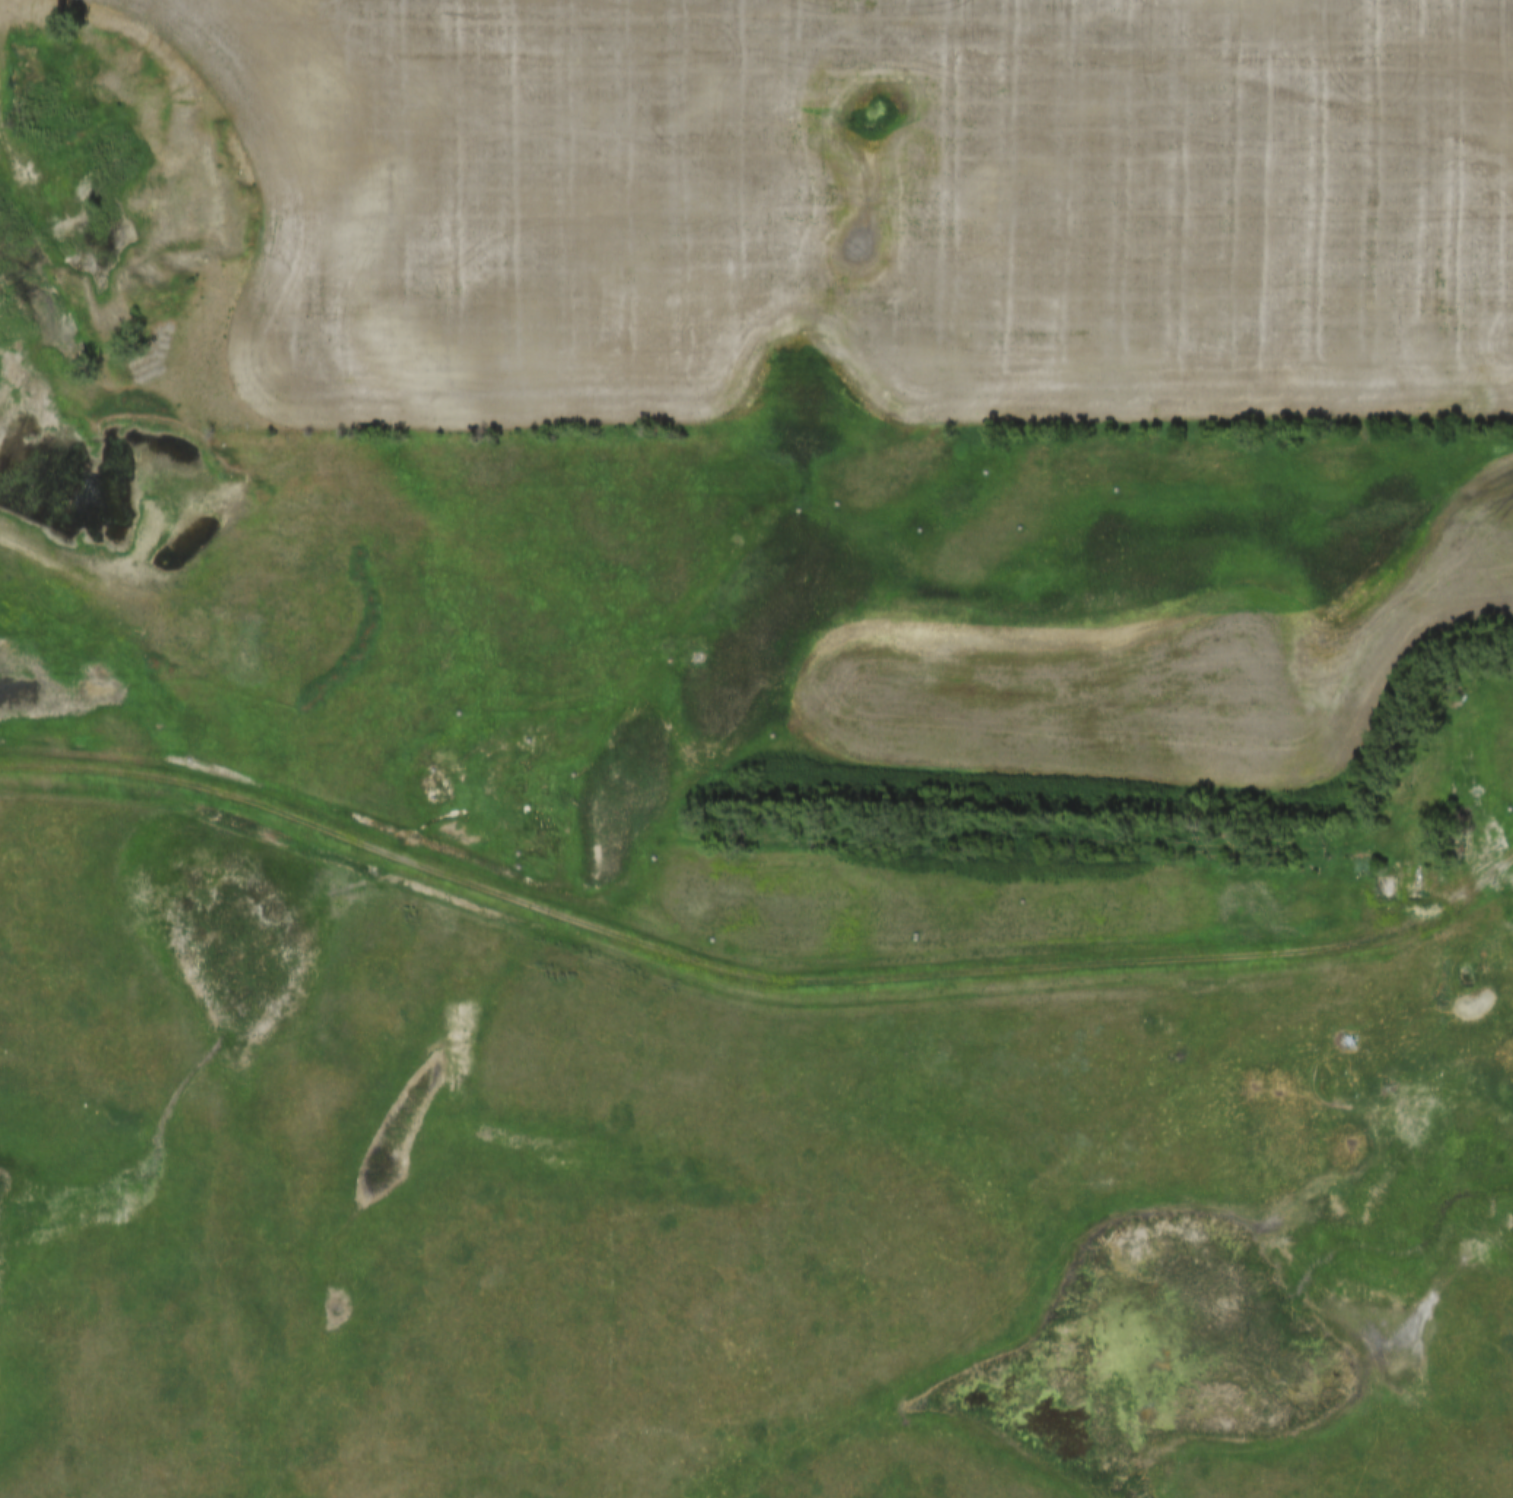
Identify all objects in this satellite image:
road: (2, 96)
quarry: (156, 389)
road: (31, 549)
building: (1364, 865)
building: (1411, 876)
building: (1386, 888)
building: (1488, 955)
road: (729, 971)

